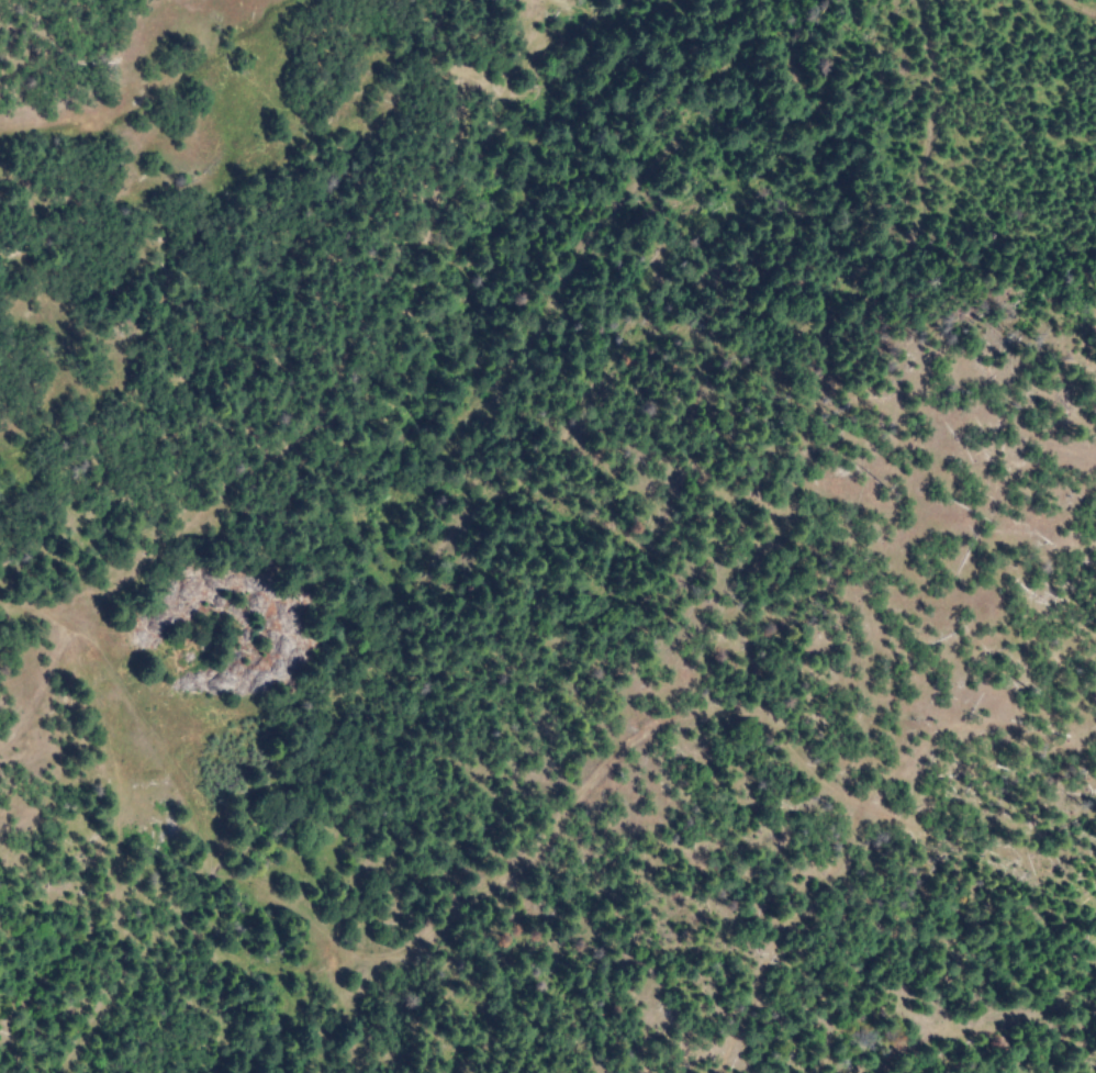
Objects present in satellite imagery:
road: (323, 93)
road: (75, 964)

